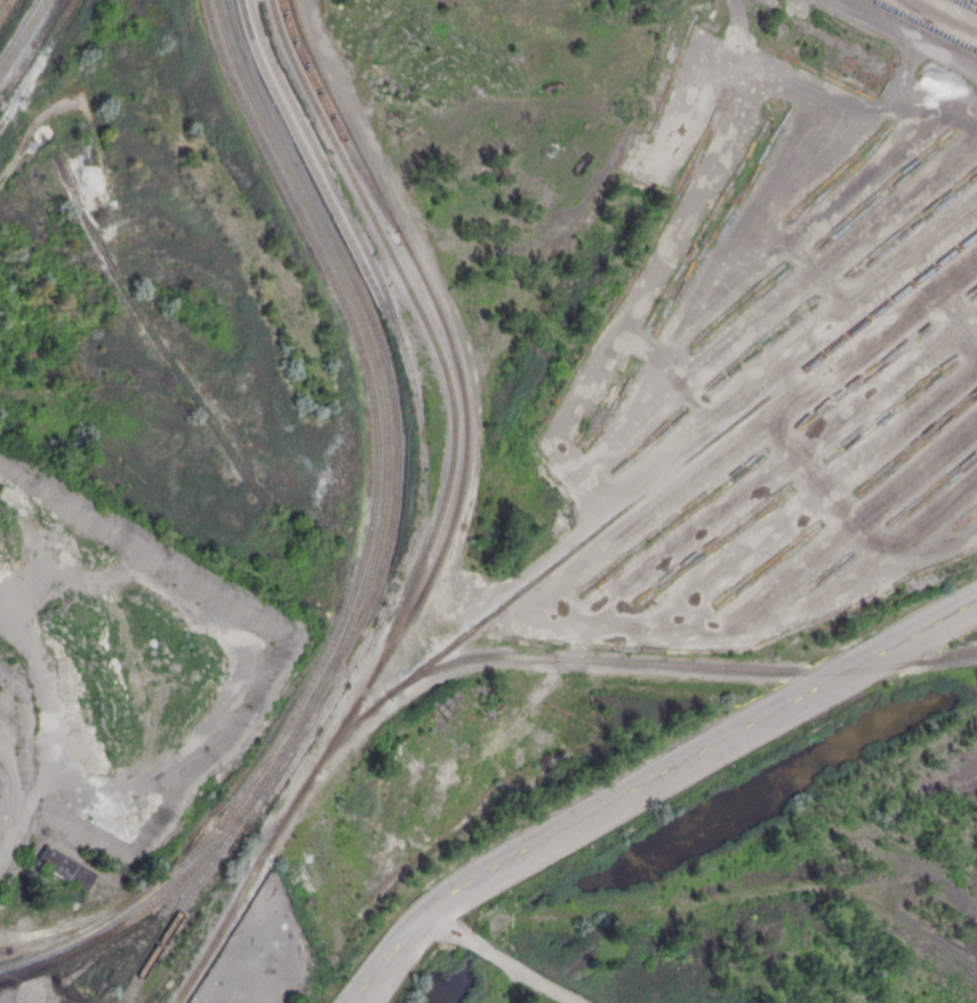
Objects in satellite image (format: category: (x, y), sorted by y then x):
railway: (20, 33)
road: (904, 34)
railway: (305, 51)
railway: (36, 57)
railway: (328, 119)
railway: (317, 254)
railway: (360, 322)
railway: (373, 330)
railway: (430, 339)
railway: (464, 442)
railway: (679, 465)
railway: (622, 662)
railway: (261, 771)
road: (640, 771)
road: (656, 786)
railway: (239, 793)
railway: (194, 862)
building: (64, 867)
railway: (241, 888)
railway: (190, 890)
road: (498, 953)

